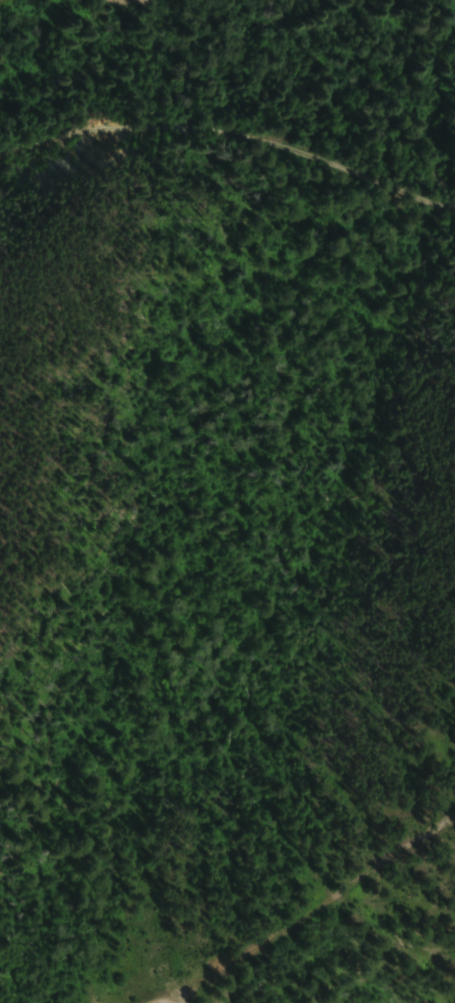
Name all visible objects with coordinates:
road: (230, 147)

